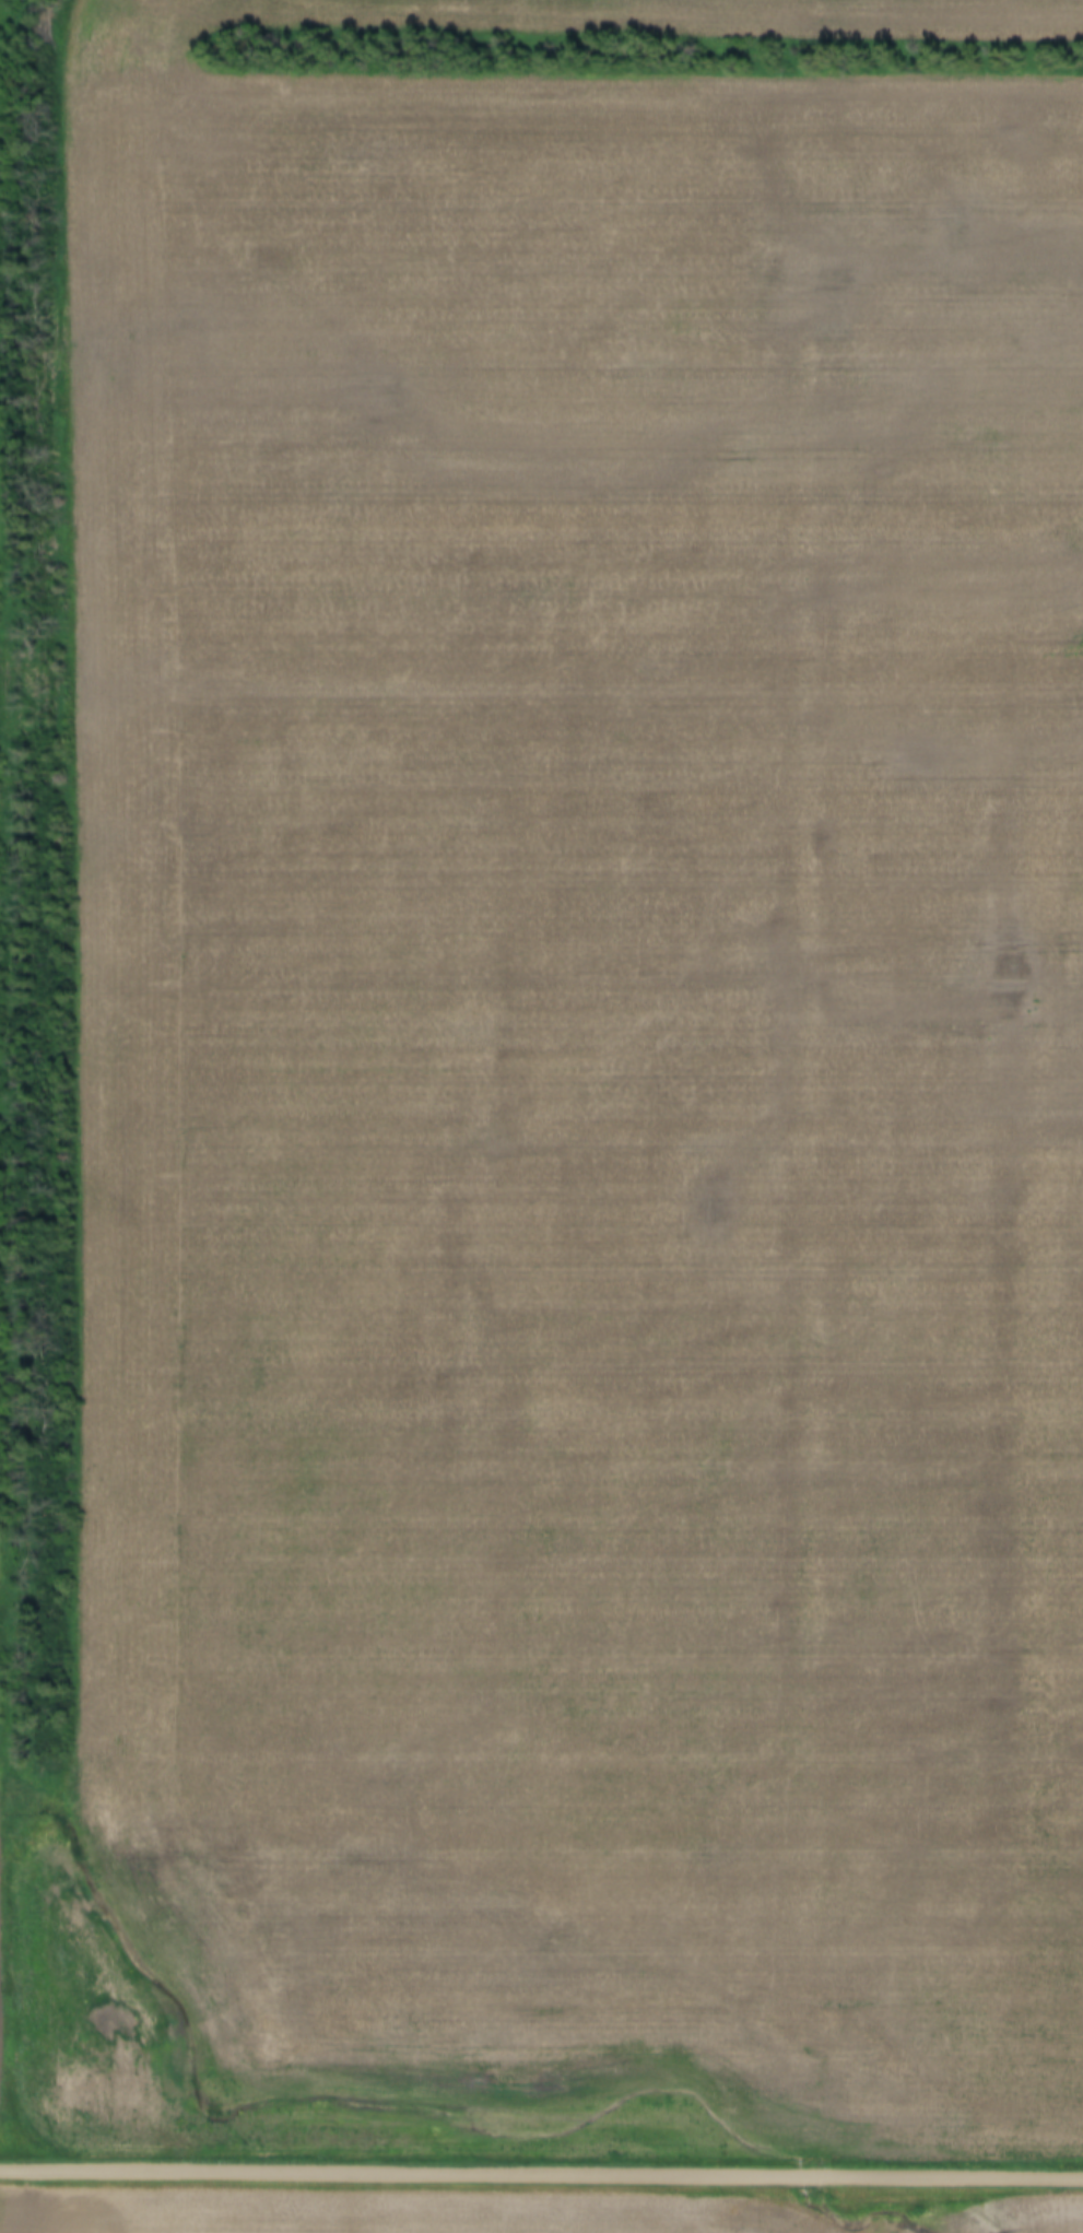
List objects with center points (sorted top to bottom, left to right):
road: (541, 2175)

